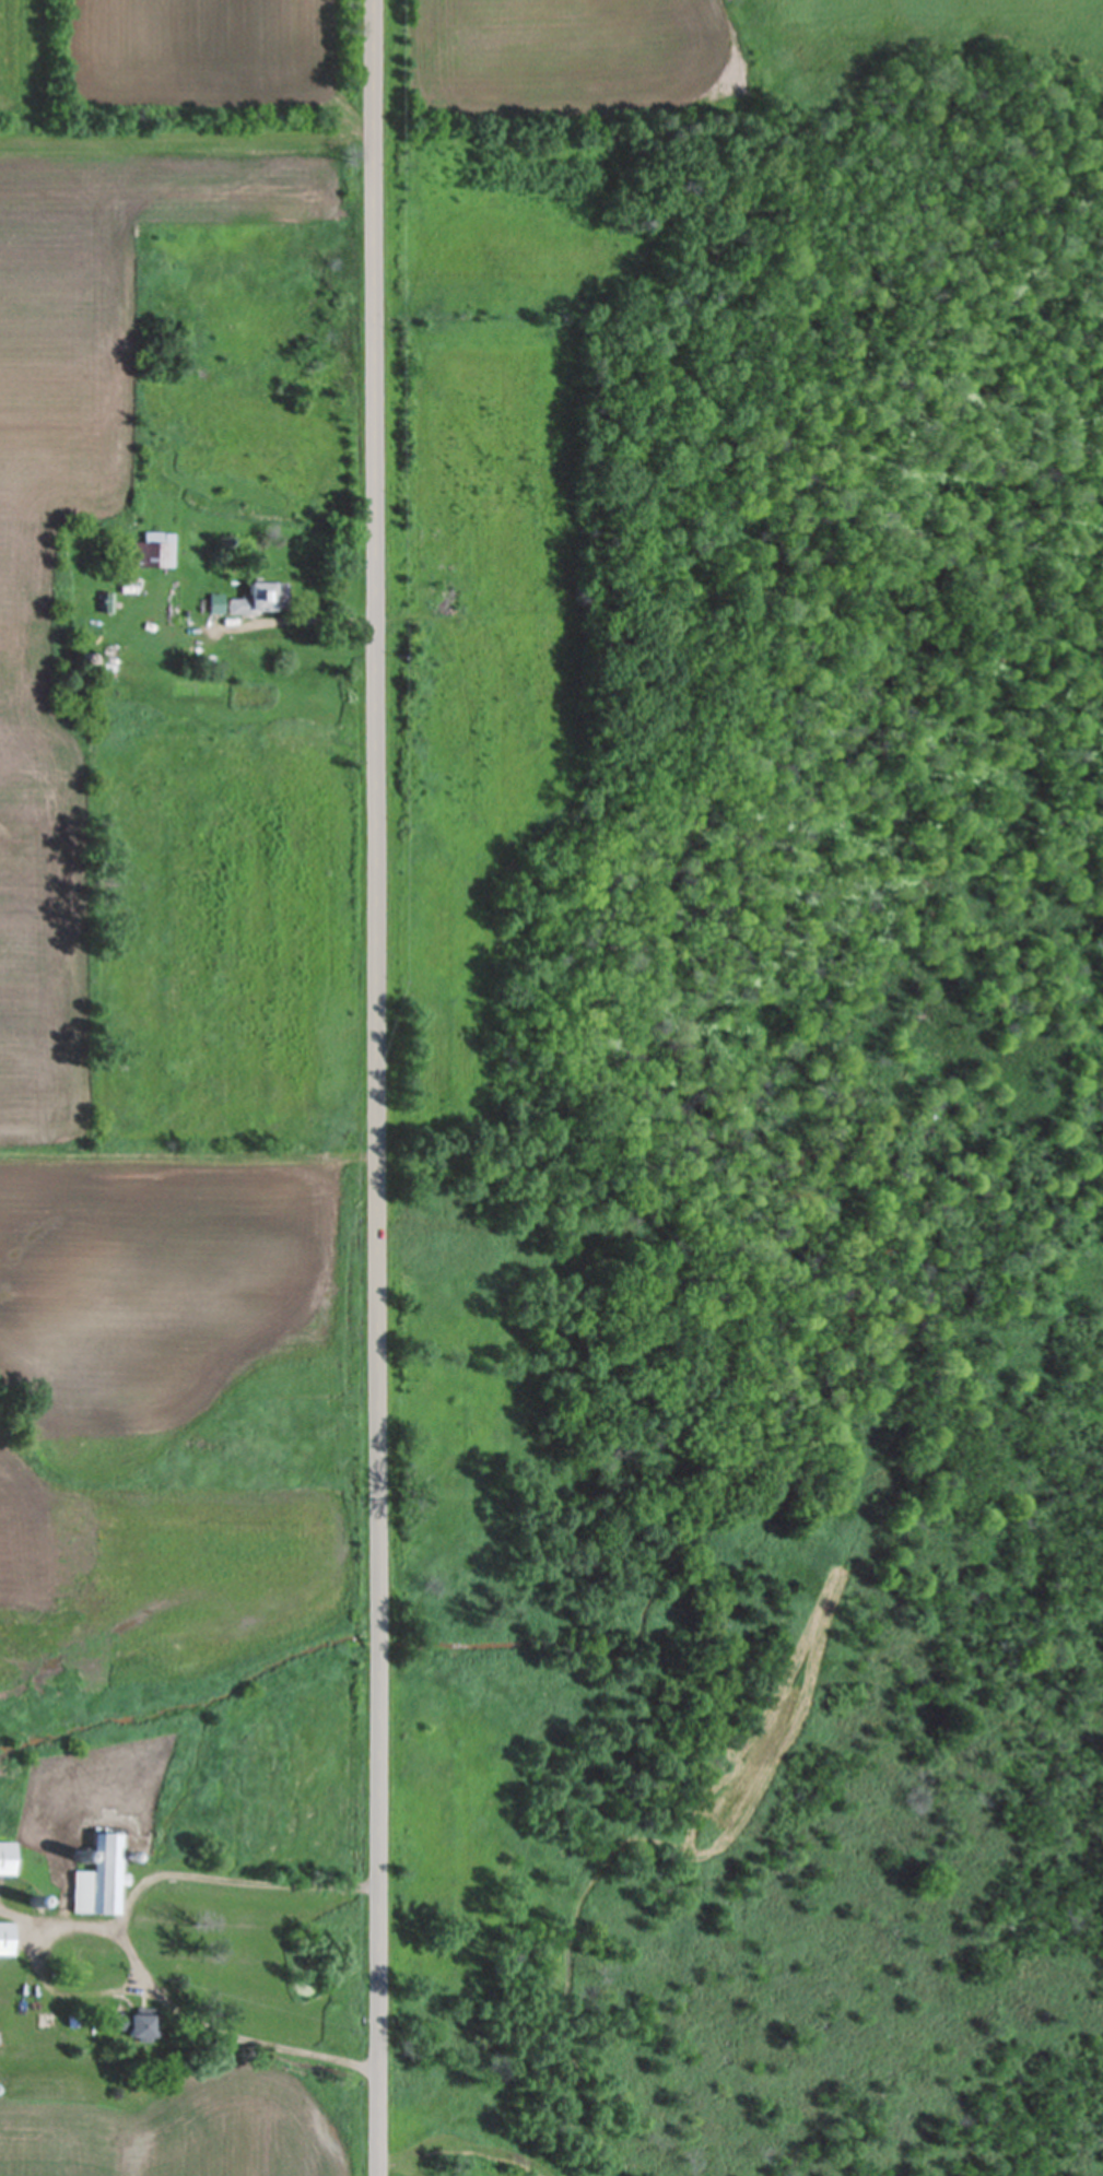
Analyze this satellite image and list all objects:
building: (154, 550)
building: (254, 600)
road: (388, 1087)
building: (5, 1858)
building: (97, 1878)
road: (57, 1925)
building: (5, 1938)
road: (119, 1939)
building: (133, 2025)

